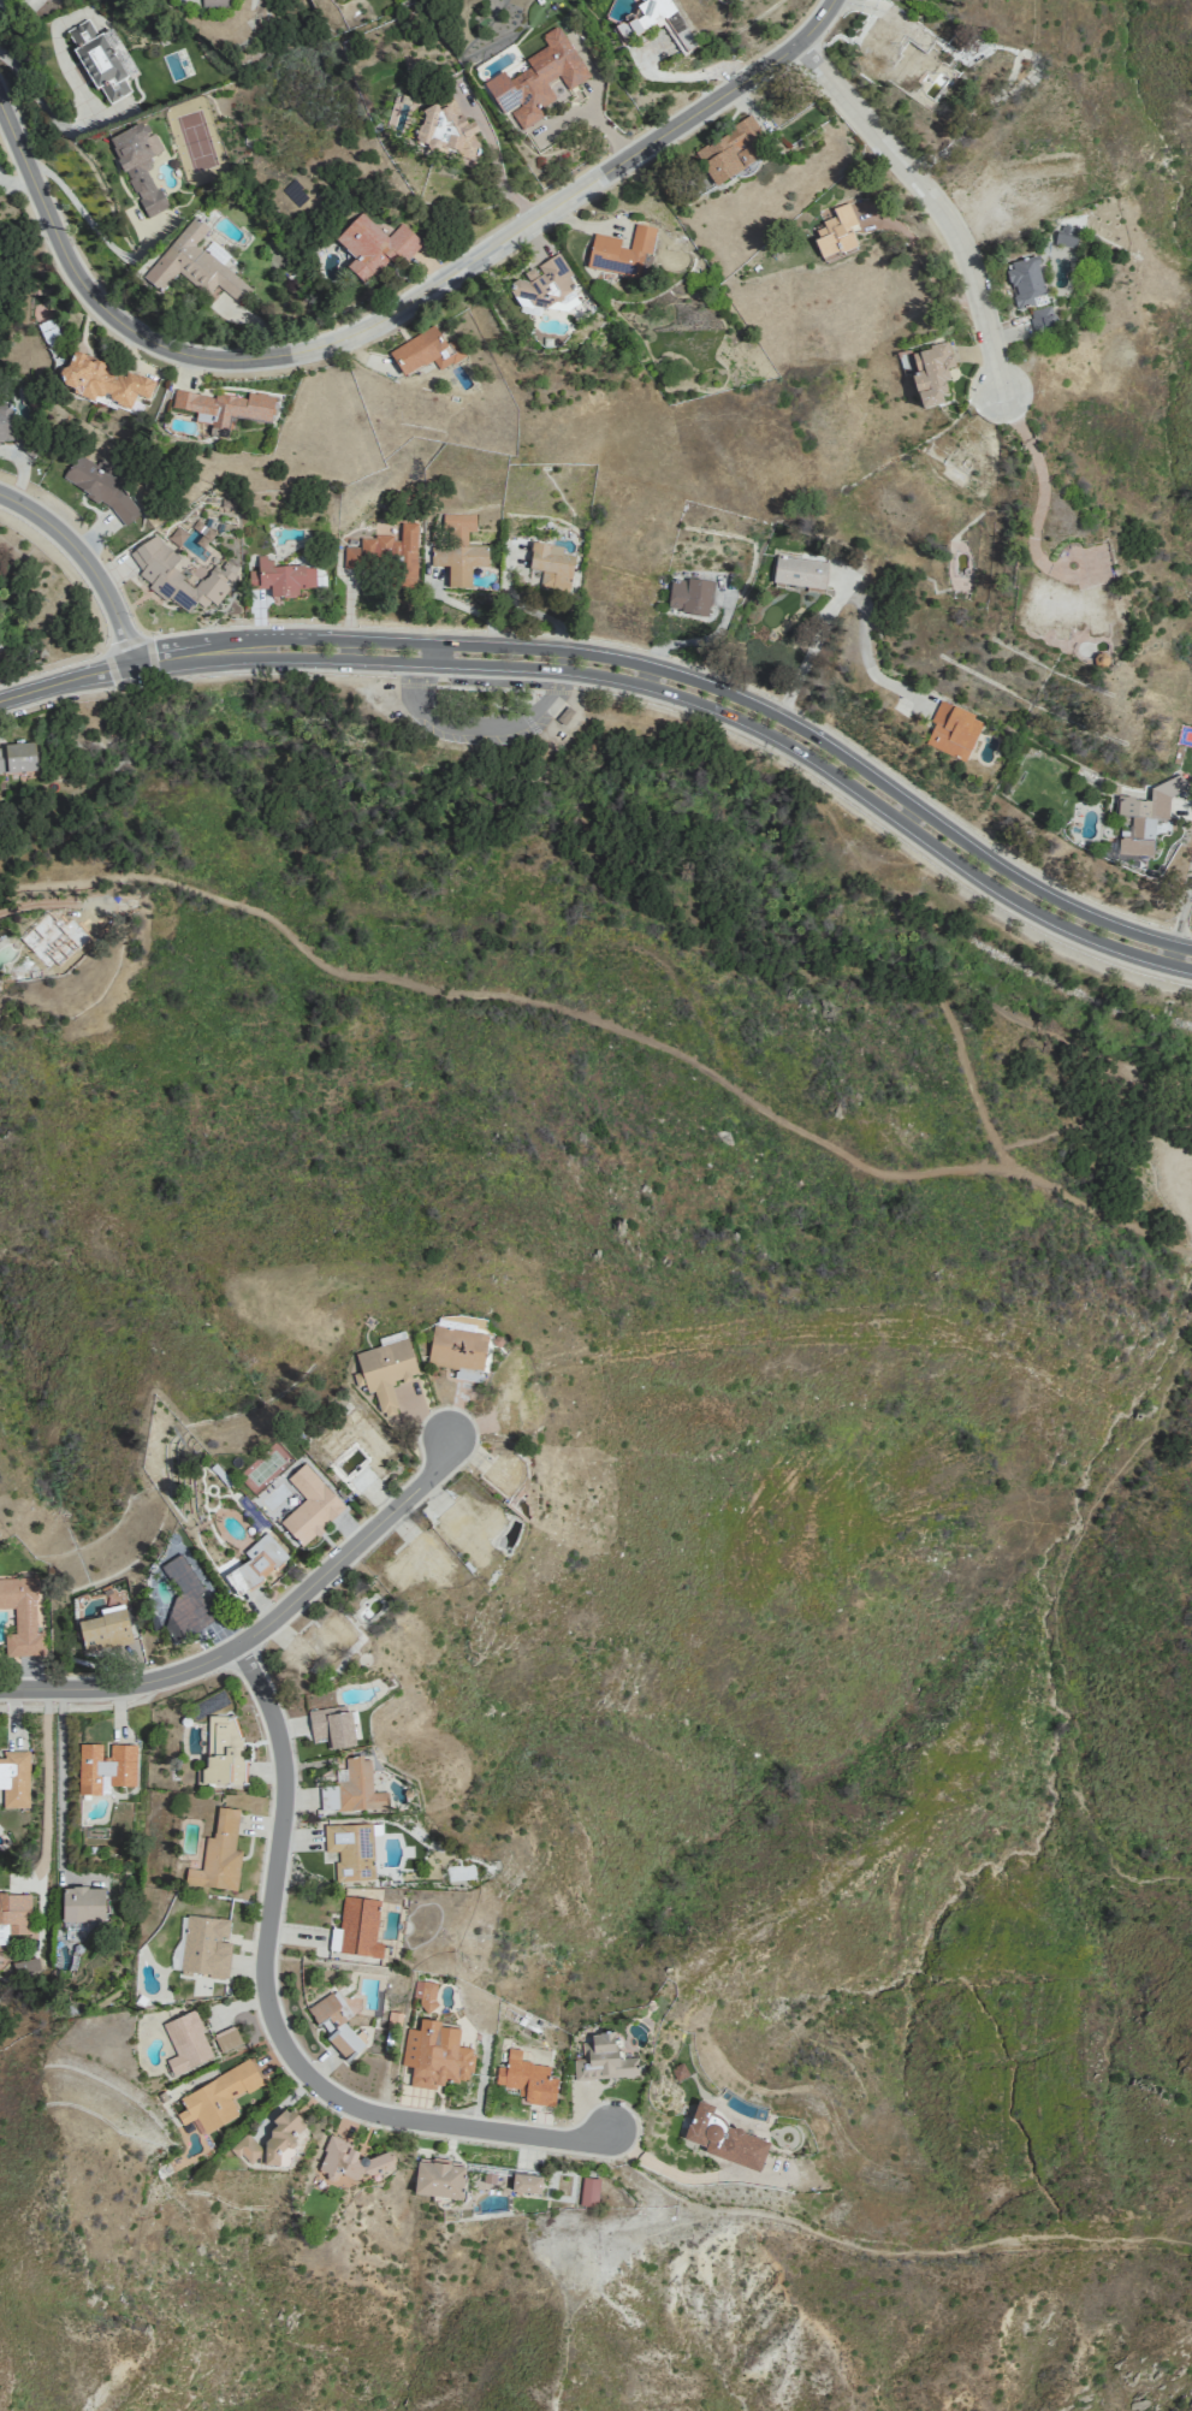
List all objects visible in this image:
building: (214, 4)
road: (17, 7)
building: (657, 23)
building: (895, 54)
building: (102, 60)
building: (536, 79)
road: (54, 120)
building: (449, 134)
building: (729, 152)
road: (494, 153)
building: (140, 166)
road: (932, 199)
building: (1009, 200)
road: (93, 224)
building: (836, 232)
building: (1066, 236)
building: (374, 245)
building: (194, 265)
building: (545, 284)
building: (1026, 284)
road: (392, 313)
building: (1043, 320)
building: (425, 351)
building: (931, 374)
building: (103, 381)
building: (224, 407)
building: (5, 423)
building: (953, 457)
road: (1040, 474)
building: (101, 486)
building: (461, 527)
building: (387, 553)
road: (88, 562)
building: (458, 562)
building: (551, 565)
building: (799, 573)
building: (178, 576)
building: (281, 577)
building: (688, 596)
building: (1063, 609)
road: (807, 654)
road: (866, 657)
road: (67, 680)
road: (698, 689)
road: (480, 728)
building: (953, 730)
building: (17, 758)
building: (1146, 816)
road: (1181, 916)
building: (59, 940)
road: (943, 1008)
road: (607, 1026)
building: (458, 1352)
building: (385, 1372)
building: (514, 1406)
building: (374, 1447)
building: (506, 1474)
building: (309, 1506)
building: (470, 1528)
building: (415, 1563)
building: (255, 1564)
building: (186, 1597)
building: (22, 1617)
building: (105, 1629)
road: (261, 1629)
road: (1057, 1641)
building: (319, 1642)
building: (332, 1726)
building: (223, 1752)
building: (105, 1766)
building: (14, 1778)
building: (352, 1788)
road: (48, 1795)
building: (351, 1850)
building: (219, 1855)
building: (83, 1903)
building: (13, 1915)
building: (356, 1927)
building: (206, 1947)
building: (25, 1967)
building: (425, 1994)
road: (273, 2016)
building: (336, 2024)
building: (226, 2038)
building: (186, 2042)
building: (435, 2055)
building: (603, 2058)
building: (527, 2079)
building: (218, 2097)
building: (272, 2138)
building: (724, 2138)
building: (349, 2163)
building: (439, 2178)
building: (526, 2182)
building: (588, 2191)
road: (880, 2249)
road: (597, 2282)

